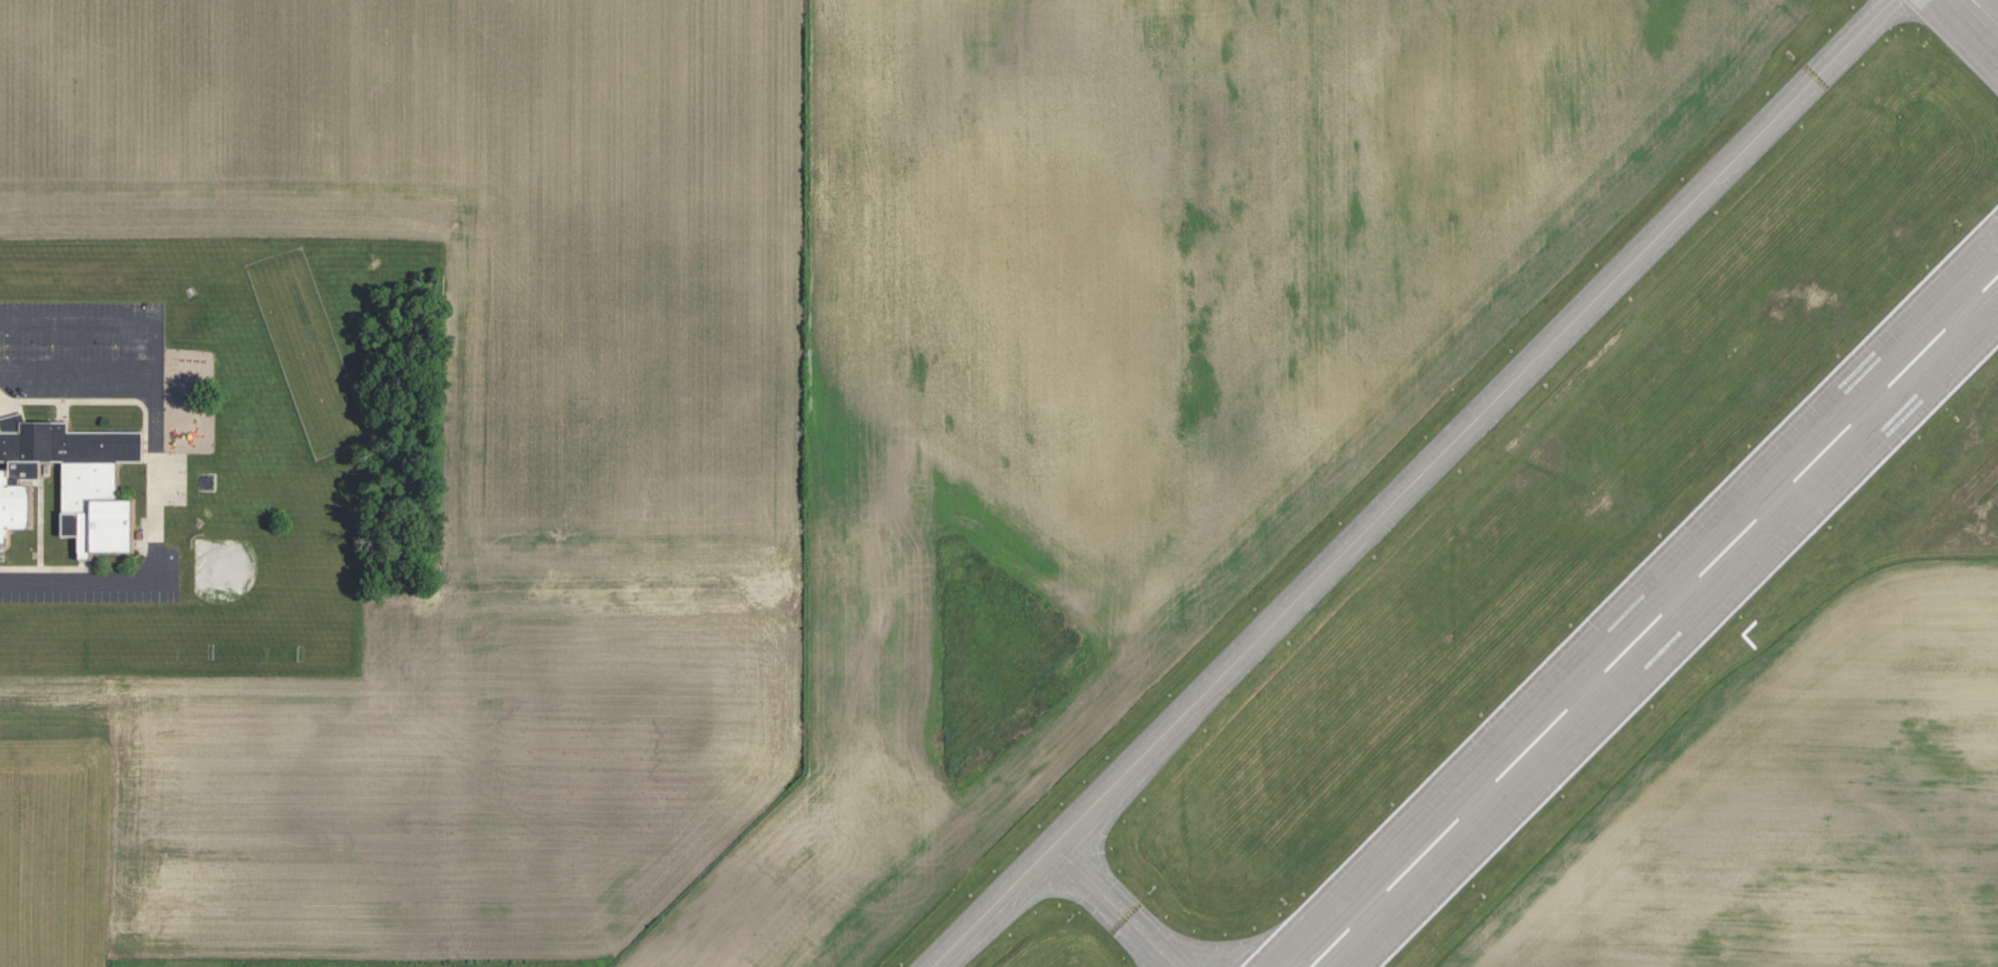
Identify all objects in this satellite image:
airport runway: (1984, 13)
building: (12, 422)
road: (135, 434)
building: (71, 482)
airport taxiway: (1414, 483)
airport: (1393, 490)
airport runway: (1655, 621)
airport taxiway: (1115, 906)

